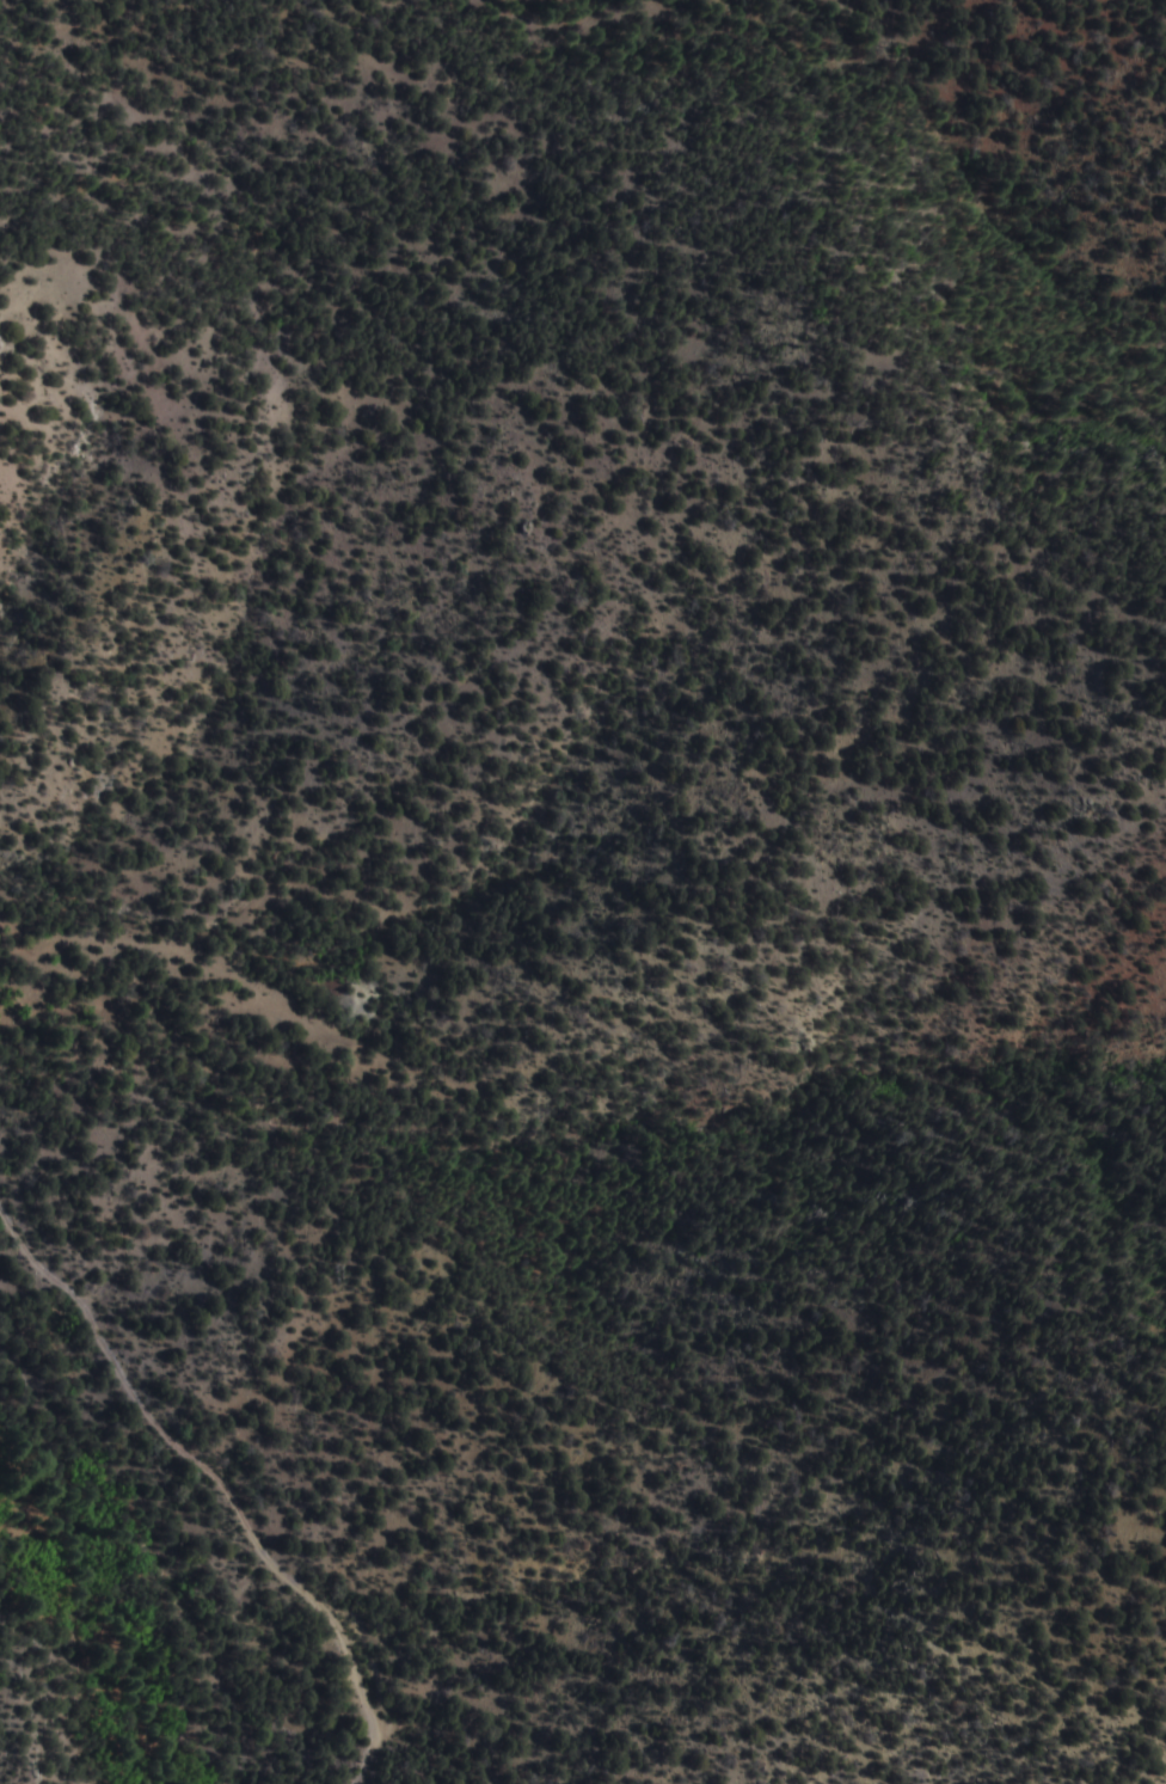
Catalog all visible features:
road: (205, 1489)

